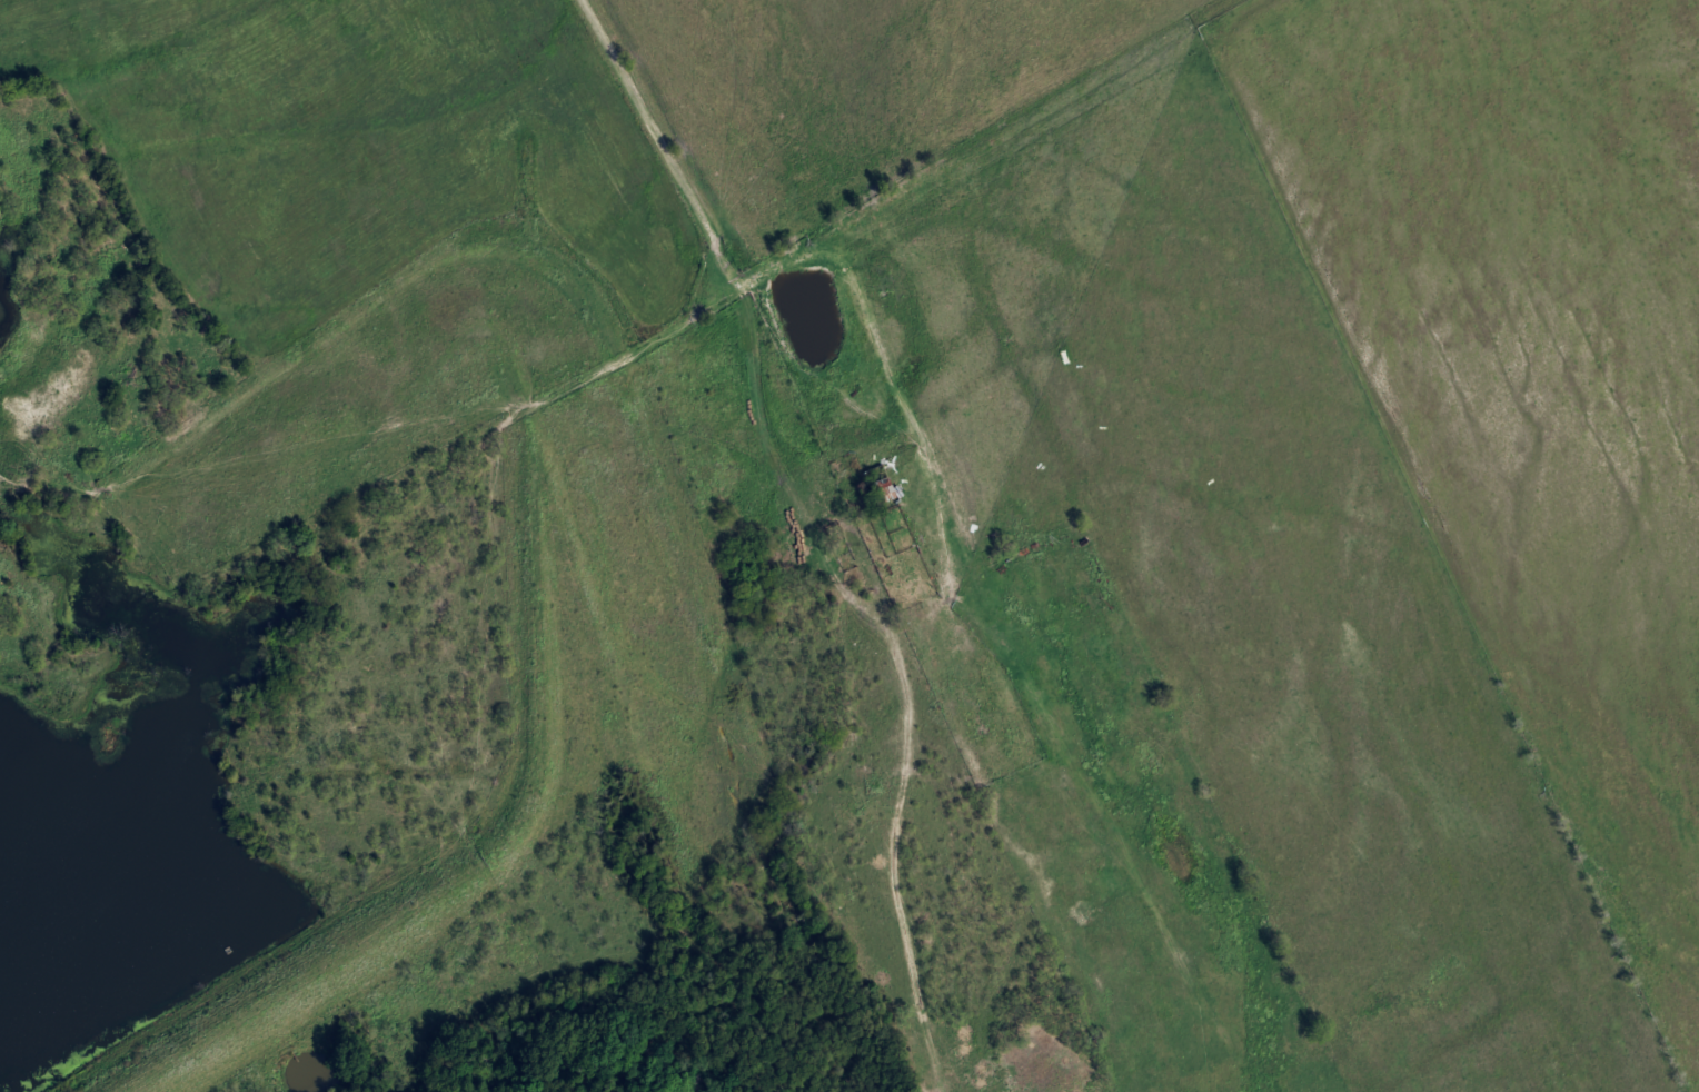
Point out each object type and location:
building: (877, 483)
road: (944, 504)

